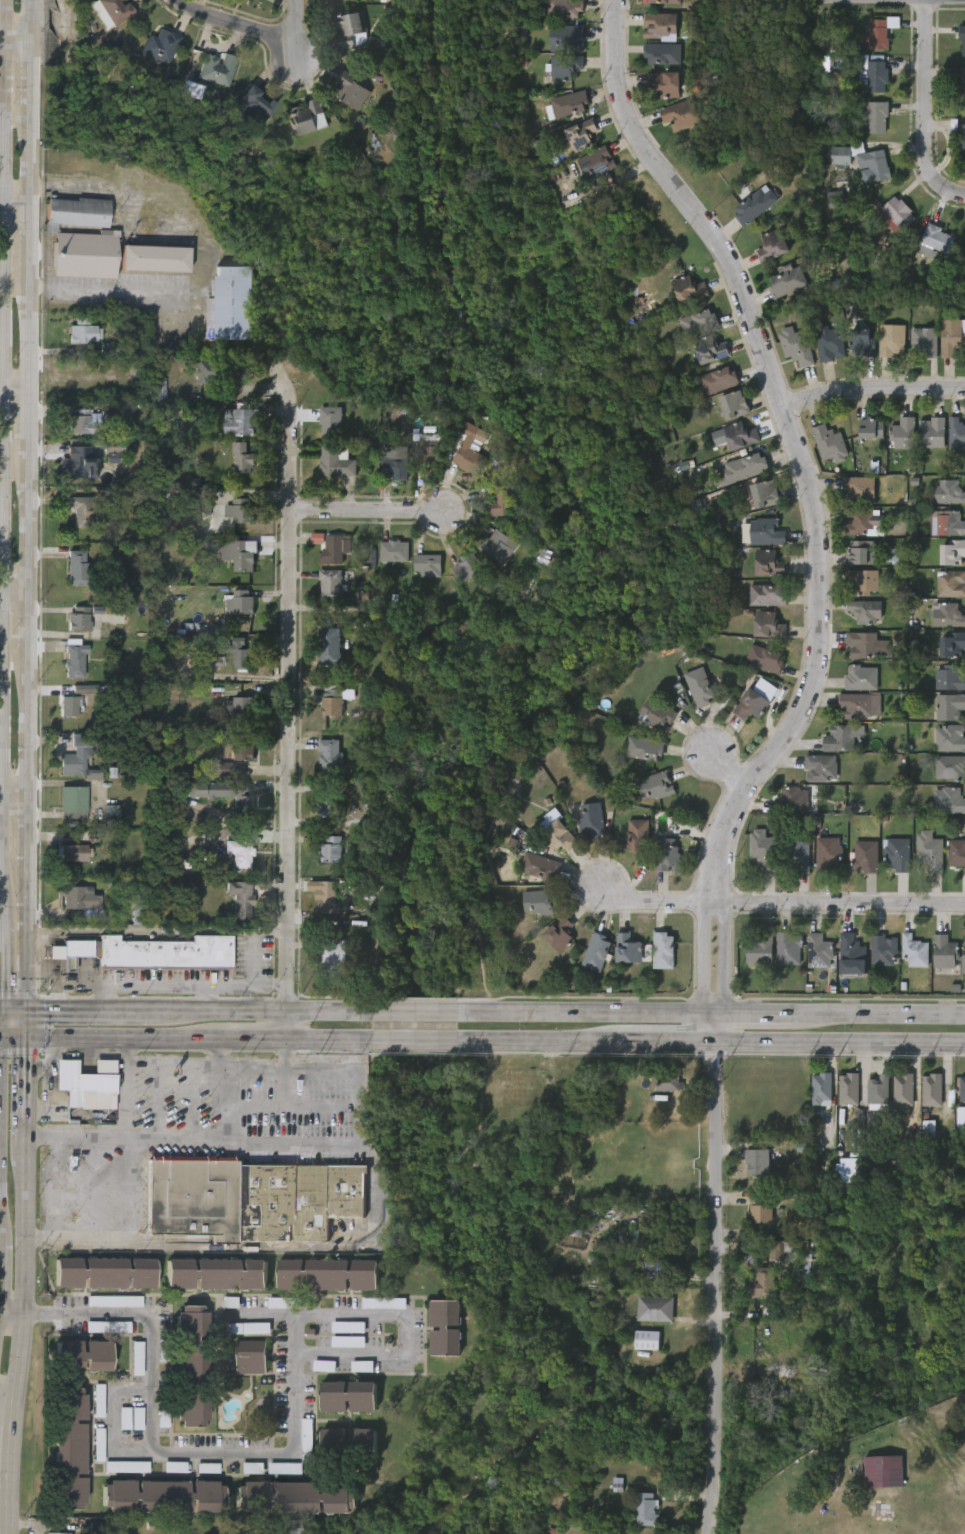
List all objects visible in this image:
building: (664, 1)
building: (566, 8)
building: (117, 10)
road: (35, 23)
road: (252, 24)
building: (660, 25)
building: (349, 29)
building: (879, 32)
building: (567, 37)
building: (962, 38)
road: (17, 46)
building: (159, 46)
building: (661, 53)
building: (566, 66)
building: (216, 69)
building: (876, 74)
road: (35, 75)
building: (667, 84)
building: (962, 87)
building: (349, 89)
building: (194, 93)
road: (923, 97)
building: (571, 104)
building: (247, 106)
building: (680, 115)
road: (0, 116)
building: (876, 117)
building: (306, 118)
building: (584, 135)
building: (961, 138)
road: (35, 155)
building: (861, 162)
building: (595, 164)
road: (1, 171)
road: (955, 191)
building: (835, 199)
road: (17, 206)
building: (756, 206)
building: (895, 213)
road: (34, 235)
building: (83, 237)
building: (935, 241)
building: (771, 246)
building: (156, 257)
building: (788, 280)
road: (17, 285)
road: (120, 288)
building: (688, 289)
building: (233, 303)
building: (698, 323)
road: (31, 331)
building: (81, 331)
building: (952, 337)
building: (893, 340)
building: (926, 340)
building: (864, 342)
building: (832, 345)
building: (795, 346)
building: (118, 350)
building: (710, 350)
building: (215, 372)
building: (718, 380)
road: (872, 387)
road: (15, 400)
building: (736, 406)
building: (241, 419)
building: (328, 422)
building: (80, 423)
road: (31, 426)
building: (870, 429)
building: (931, 433)
building: (956, 433)
building: (903, 434)
building: (741, 436)
building: (829, 444)
building: (112, 448)
building: (467, 450)
building: (429, 452)
building: (243, 458)
building: (80, 462)
building: (336, 462)
building: (393, 468)
building: (744, 468)
building: (857, 489)
building: (948, 493)
building: (768, 494)
building: (192, 496)
building: (675, 498)
building: (499, 502)
road: (372, 510)
road: (815, 510)
building: (81, 511)
building: (241, 511)
road: (34, 517)
building: (860, 522)
building: (949, 524)
building: (769, 532)
building: (745, 533)
building: (493, 546)
building: (332, 550)
building: (392, 552)
building: (242, 554)
building: (857, 554)
building: (952, 554)
building: (770, 563)
building: (426, 566)
building: (466, 568)
building: (75, 569)
road: (18, 578)
building: (862, 582)
building: (950, 585)
building: (329, 586)
building: (766, 597)
building: (241, 603)
building: (864, 612)
road: (36, 613)
building: (948, 615)
building: (80, 619)
building: (767, 626)
building: (862, 643)
building: (952, 643)
building: (330, 647)
building: (238, 650)
building: (763, 659)
building: (73, 660)
building: (211, 662)
building: (861, 677)
building: (949, 677)
building: (698, 685)
building: (84, 689)
building: (331, 702)
road: (291, 703)
building: (753, 704)
building: (859, 705)
building: (69, 706)
building: (949, 706)
building: (235, 708)
building: (657, 714)
road: (34, 722)
building: (950, 737)
building: (839, 738)
building: (241, 746)
building: (643, 748)
building: (328, 754)
building: (76, 755)
building: (820, 767)
building: (950, 767)
building: (224, 769)
road: (727, 770)
building: (655, 785)
building: (242, 796)
road: (16, 797)
building: (792, 800)
building: (948, 800)
building: (71, 802)
building: (329, 806)
building: (111, 813)
building: (590, 819)
building: (553, 830)
road: (33, 832)
building: (638, 836)
building: (763, 849)
building: (239, 850)
building: (332, 850)
building: (930, 850)
building: (75, 852)
building: (827, 853)
building: (898, 853)
building: (956, 853)
building: (666, 855)
building: (796, 856)
building: (866, 856)
building: (539, 866)
building: (71, 896)
building: (239, 898)
building: (329, 898)
road: (656, 901)
building: (543, 902)
road: (840, 904)
road: (159, 931)
building: (559, 933)
road: (32, 938)
building: (628, 948)
building: (759, 948)
building: (788, 948)
building: (882, 949)
building: (662, 950)
building: (914, 950)
building: (818, 951)
building: (944, 951)
building: (148, 952)
building: (597, 952)
building: (851, 955)
building: (330, 957)
building: (963, 965)
road: (252, 974)
road: (45, 978)
road: (166, 985)
road: (71, 987)
road: (204, 998)
road: (15, 1009)
traffic signals: (31, 1009)
road: (94, 1009)
road: (428, 1010)
road: (273, 1011)
road: (591, 1012)
road: (752, 1013)
road: (878, 1013)
road: (25, 1023)
road: (9, 1036)
traffic signals: (19, 1037)
road: (203, 1039)
road: (428, 1041)
road: (545, 1043)
road: (667, 1044)
road: (839, 1044)
road: (214, 1050)
road: (206, 1061)
building: (666, 1082)
building: (86, 1083)
road: (123, 1087)
building: (963, 1088)
road: (285, 1089)
building: (821, 1089)
building: (848, 1089)
building: (903, 1089)
building: (543, 1090)
building: (931, 1090)
building: (877, 1093)
road: (157, 1098)
road: (193, 1099)
road: (230, 1104)
road: (294, 1107)
building: (960, 1118)
road: (282, 1143)
building: (756, 1161)
building: (869, 1163)
building: (849, 1170)
road: (55, 1188)
road: (92, 1188)
road: (130, 1188)
building: (248, 1201)
building: (762, 1210)
road: (38, 1240)
road: (92, 1240)
building: (778, 1249)
building: (605, 1266)
building: (655, 1270)
building: (105, 1272)
building: (216, 1273)
building: (329, 1274)
building: (762, 1284)
road: (19, 1285)
road: (724, 1289)
building: (114, 1301)
building: (230, 1302)
building: (284, 1303)
building: (383, 1303)
building: (654, 1309)
road: (263, 1314)
road: (9, 1315)
road: (44, 1316)
road: (401, 1317)
building: (447, 1326)
building: (107, 1327)
building: (248, 1329)
building: (645, 1340)
building: (347, 1342)
building: (83, 1354)
building: (253, 1357)
building: (137, 1358)
building: (192, 1366)
building: (324, 1366)
building: (361, 1366)
building: (350, 1397)
road: (6, 1399)
building: (99, 1401)
building: (125, 1418)
road: (110, 1425)
building: (307, 1439)
building: (350, 1443)
building: (69, 1448)
road: (162, 1453)
building: (126, 1467)
building: (175, 1467)
building: (207, 1468)
building: (252, 1468)
building: (285, 1468)
building: (883, 1472)
building: (163, 1495)
building: (297, 1497)
building: (648, 1509)
building: (289, 1527)
building: (97, 1528)
building: (234, 1531)
building: (53, 1533)

